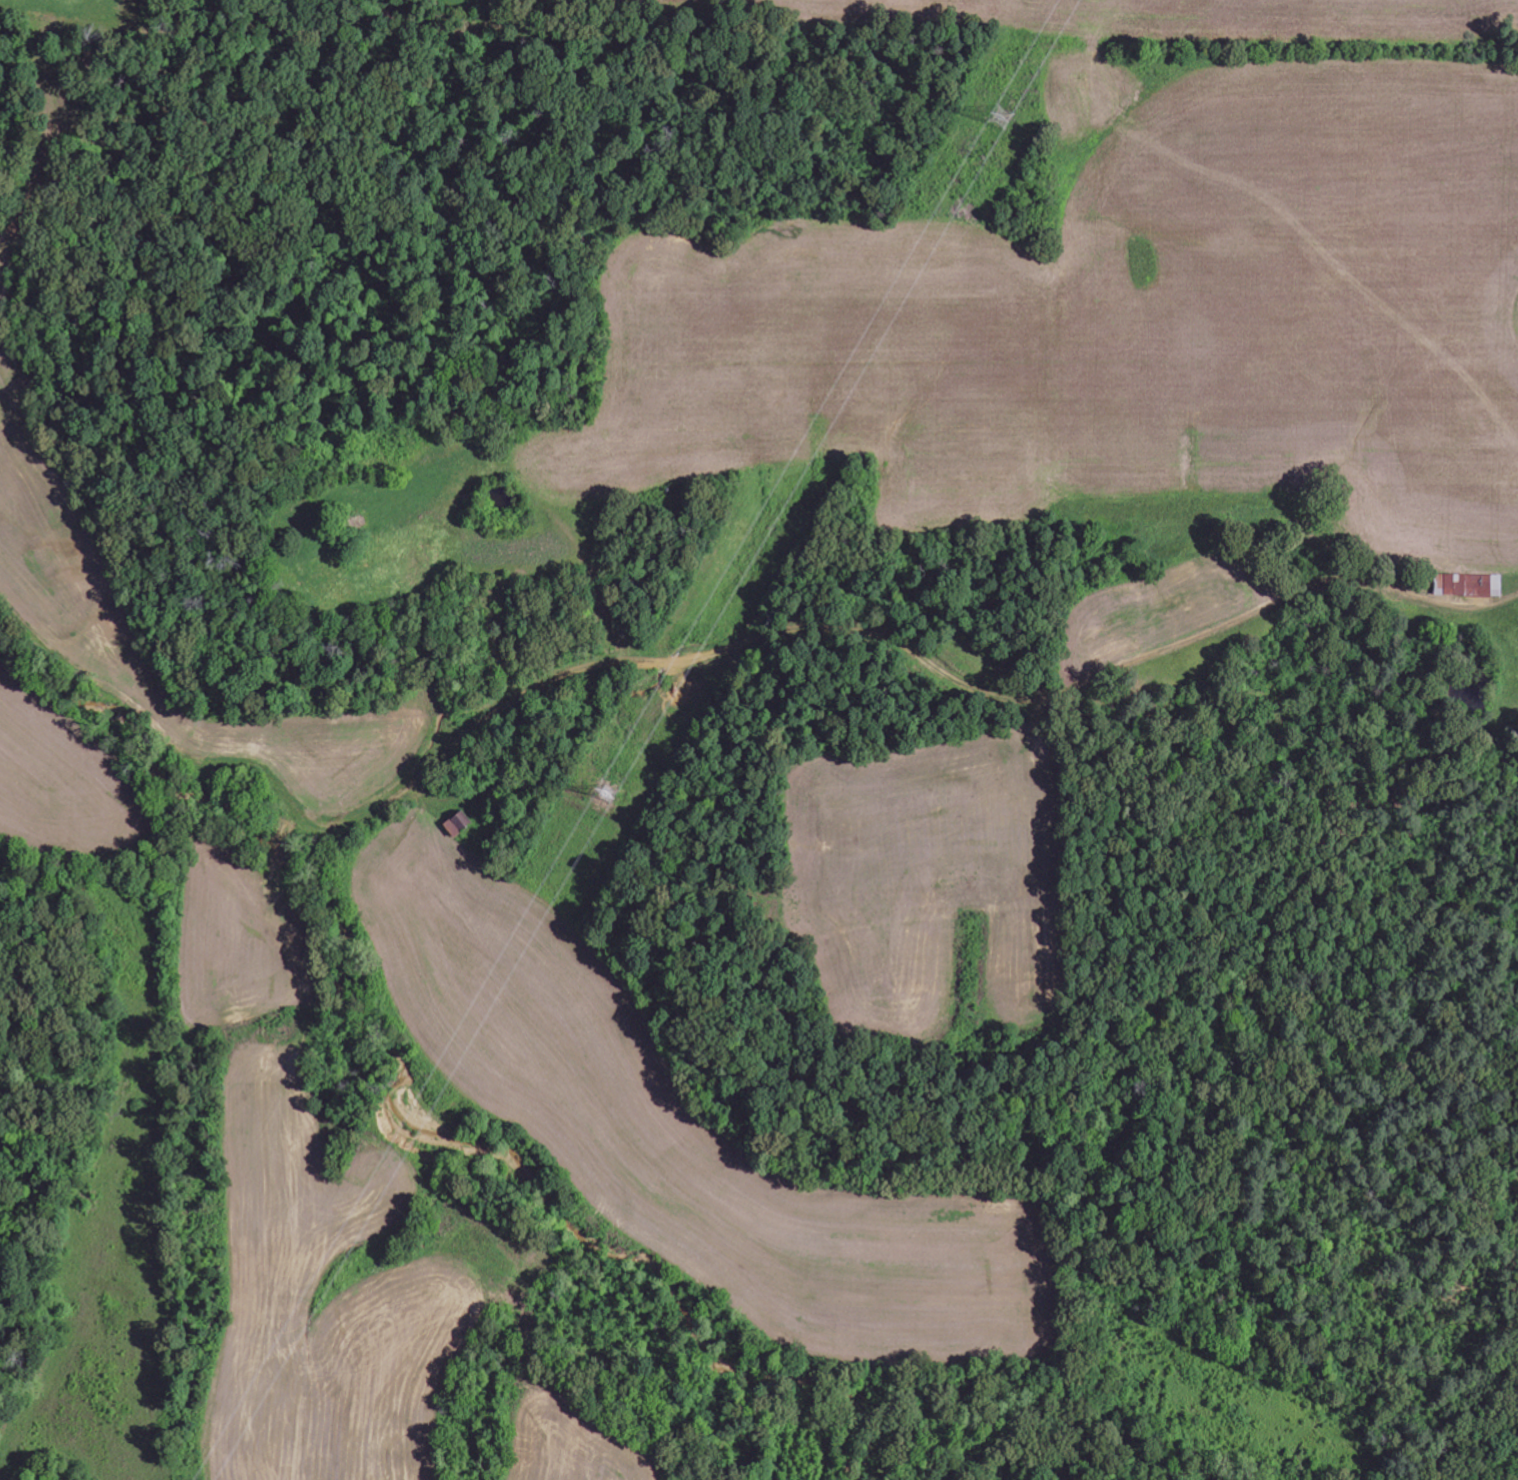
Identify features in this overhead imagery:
power tower: (1010, 120)
building: (1468, 585)
power tower: (609, 797)
building: (458, 824)

